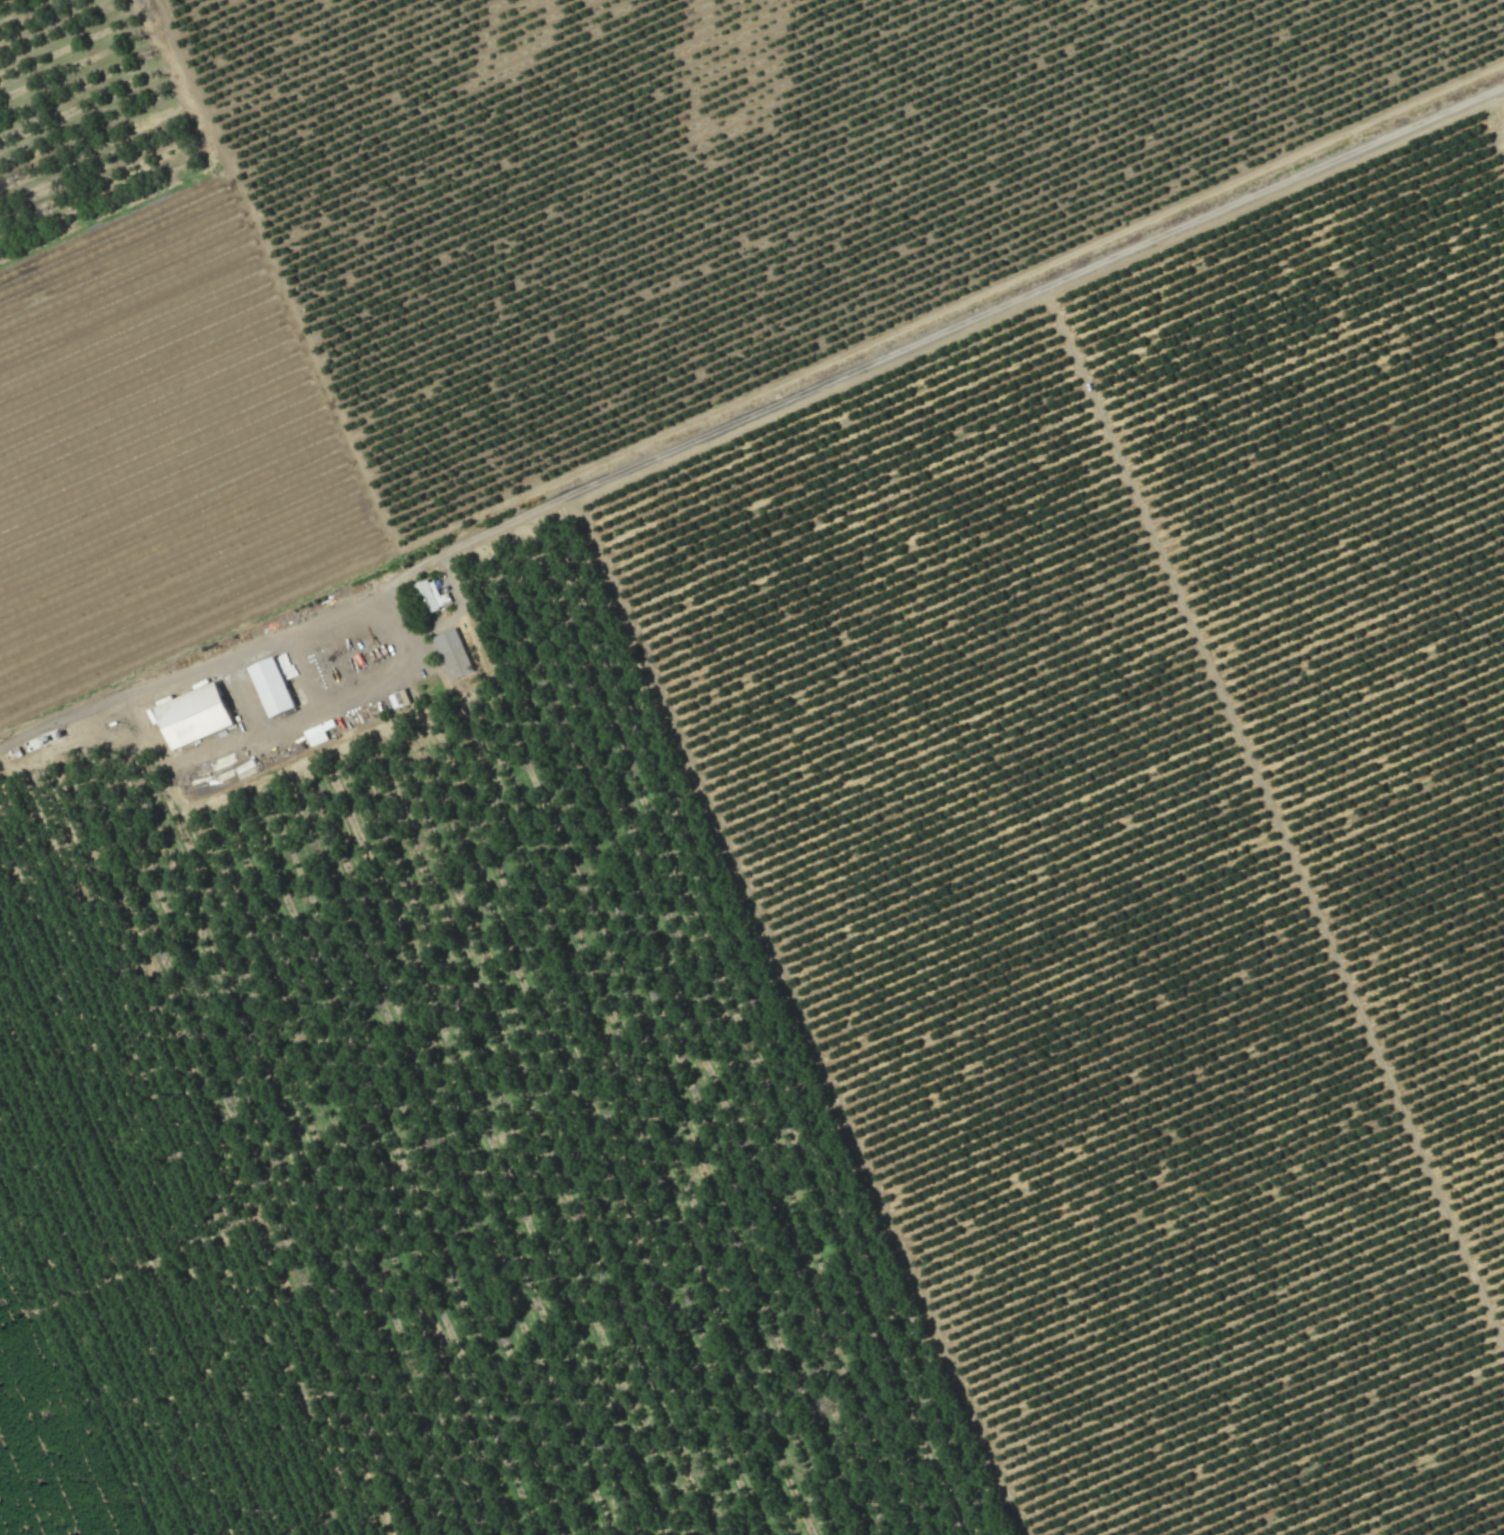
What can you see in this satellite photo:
road: (939, 334)
road: (749, 400)
building: (428, 595)
building: (451, 654)
building: (270, 687)
building: (192, 716)
road: (259, 724)
building: (316, 735)

